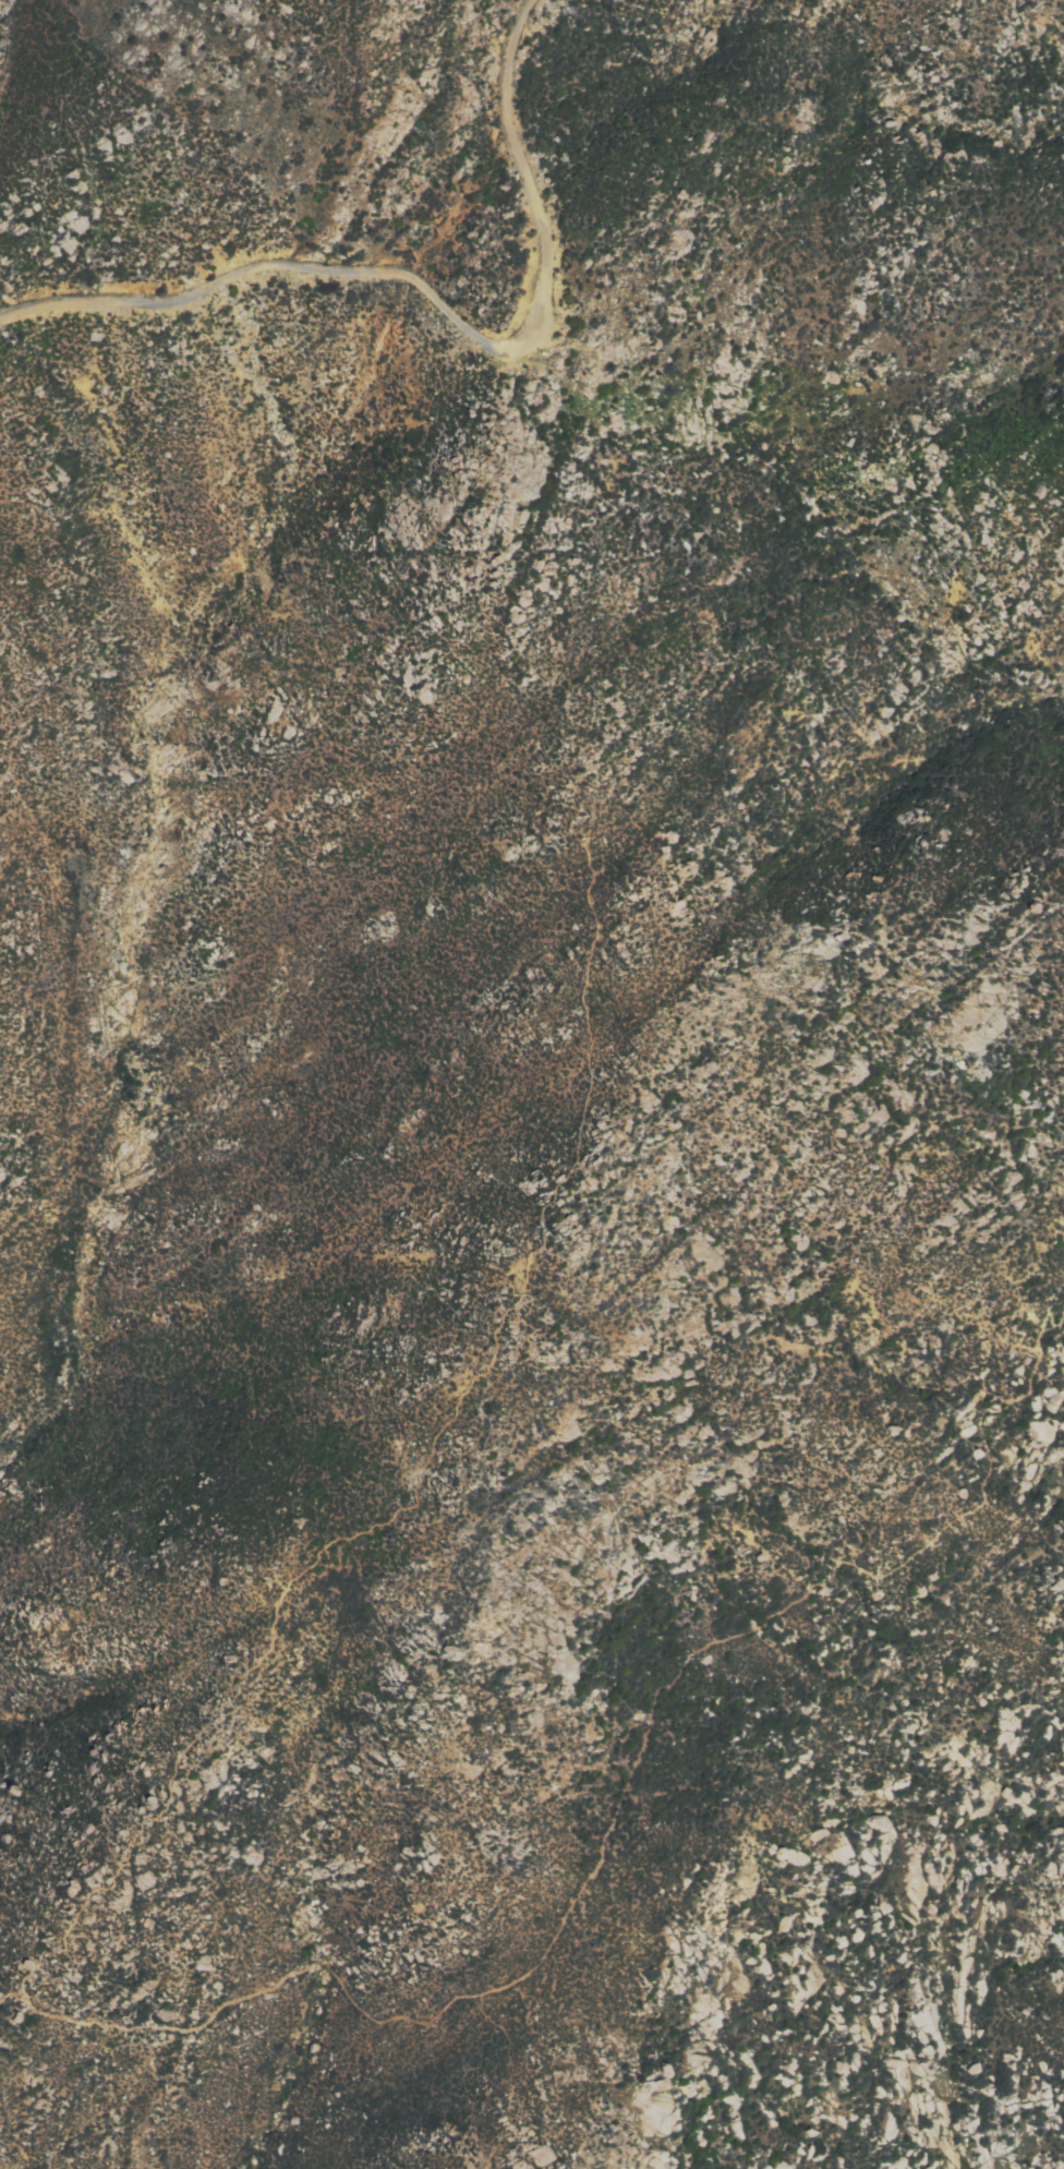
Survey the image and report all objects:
road: (448, 310)

